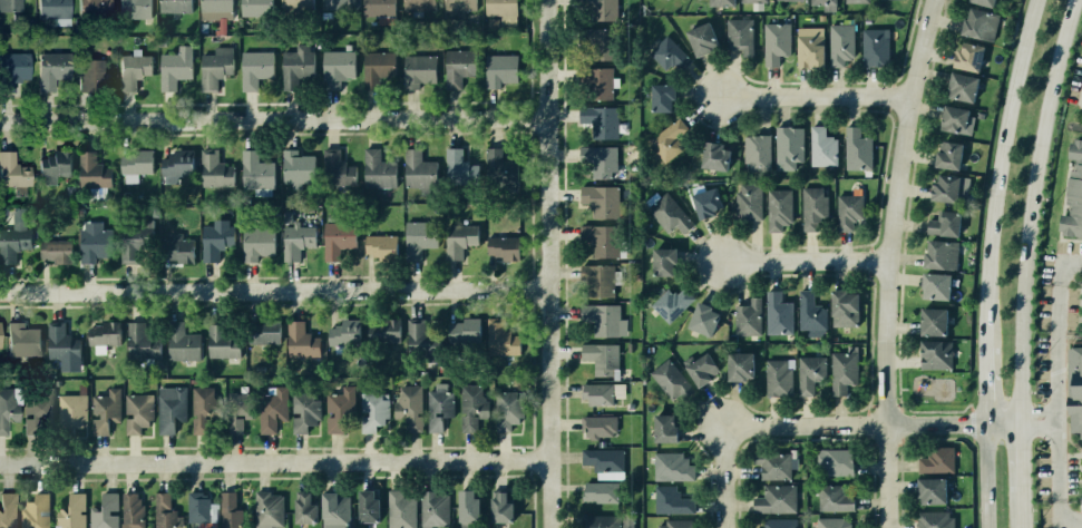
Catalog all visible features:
building: (665, 0)
building: (788, 0)
building: (855, 0)
building: (753, 1)
building: (821, 1)
building: (721, 2)
building: (983, 2)
building: (337, 3)
building: (9, 4)
building: (295, 4)
building: (418, 4)
building: (458, 4)
building: (174, 6)
building: (254, 7)
building: (377, 7)
building: (92, 8)
building: (133, 8)
building: (51, 9)
building: (214, 9)
building: (601, 9)
building: (500, 10)
building: (978, 23)
building: (739, 35)
building: (701, 38)
building: (774, 41)
building: (839, 43)
building: (596, 45)
building: (808, 46)
building: (874, 46)
building: (669, 53)
building: (967, 56)
building: (295, 65)
building: (458, 66)
building: (174, 67)
building: (213, 67)
building: (254, 67)
building: (335, 67)
building: (376, 67)
building: (12, 68)
building: (51, 69)
building: (417, 69)
building: (498, 69)
building: (130, 70)
building: (88, 75)
building: (597, 86)
building: (961, 86)
building: (662, 96)
road: (815, 97)
road: (272, 117)
building: (953, 117)
building: (596, 123)
road: (1041, 131)
building: (666, 139)
building: (788, 146)
building: (821, 147)
building: (856, 148)
building: (756, 151)
building: (947, 155)
building: (713, 156)
building: (596, 164)
building: (452, 166)
building: (52, 167)
building: (133, 167)
building: (334, 167)
building: (173, 168)
building: (411, 168)
building: (214, 169)
building: (497, 169)
building: (13, 170)
building: (90, 170)
building: (293, 170)
building: (373, 170)
building: (254, 172)
building: (944, 188)
building: (1074, 193)
building: (596, 202)
building: (747, 202)
building: (704, 203)
building: (778, 209)
building: (813, 209)
building: (848, 214)
building: (669, 215)
building: (944, 223)
building: (12, 239)
building: (212, 239)
building: (417, 241)
building: (598, 242)
building: (131, 243)
building: (293, 243)
building: (456, 243)
building: (334, 244)
building: (174, 245)
building: (91, 247)
building: (254, 248)
building: (499, 248)
building: (53, 251)
building: (374, 251)
building: (939, 254)
road: (805, 261)
road: (985, 261)
building: (660, 262)
road: (887, 262)
road: (544, 264)
road: (1064, 265)
building: (596, 281)
building: (934, 285)
road: (272, 287)
building: (670, 306)
building: (1079, 307)
building: (840, 309)
building: (808, 312)
building: (776, 315)
building: (597, 319)
building: (699, 319)
building: (747, 319)
building: (932, 321)
building: (101, 333)
building: (0, 334)
building: (387, 335)
building: (261, 336)
building: (461, 338)
building: (342, 339)
building: (298, 340)
building: (417, 340)
building: (500, 340)
building: (22, 341)
building: (222, 341)
building: (139, 342)
building: (62, 343)
building: (179, 343)
road: (1020, 343)
building: (934, 354)
building: (601, 359)
building: (735, 365)
building: (699, 368)
building: (810, 371)
building: (841, 373)
building: (777, 378)
building: (669, 381)
road: (898, 384)
building: (1072, 390)
road: (1055, 391)
building: (601, 395)
road: (897, 403)
road: (900, 407)
road: (971, 407)
building: (408, 410)
road: (935, 410)
building: (201, 411)
building: (234, 411)
building: (471, 411)
building: (507, 411)
building: (169, 412)
building: (8, 413)
building: (33, 413)
building: (372, 413)
building: (439, 413)
building: (104, 414)
building: (136, 414)
building: (266, 414)
building: (333, 414)
building: (70, 415)
building: (303, 415)
road: (1037, 422)
road: (900, 423)
road: (821, 426)
building: (597, 428)
building: (662, 429)
road: (1021, 456)
building: (933, 458)
road: (273, 461)
building: (835, 462)
building: (601, 463)
building: (770, 465)
building: (671, 466)
building: (1081, 469)
building: (930, 489)
building: (598, 492)
building: (771, 498)
building: (834, 499)
building: (672, 502)
building: (499, 507)
building: (367, 508)
building: (466, 508)
road: (1022, 508)
building: (72, 509)
building: (302, 509)
building: (6, 510)
building: (103, 510)
building: (131, 510)
building: (163, 510)
building: (227, 510)
building: (333, 510)
building: (400, 510)
building: (433, 510)
building: (36, 511)
building: (198, 511)
building: (266, 512)
road: (1065, 515)
building: (933, 519)
building: (607, 521)
building: (831, 522)
building: (673, 524)
building: (777, 524)

